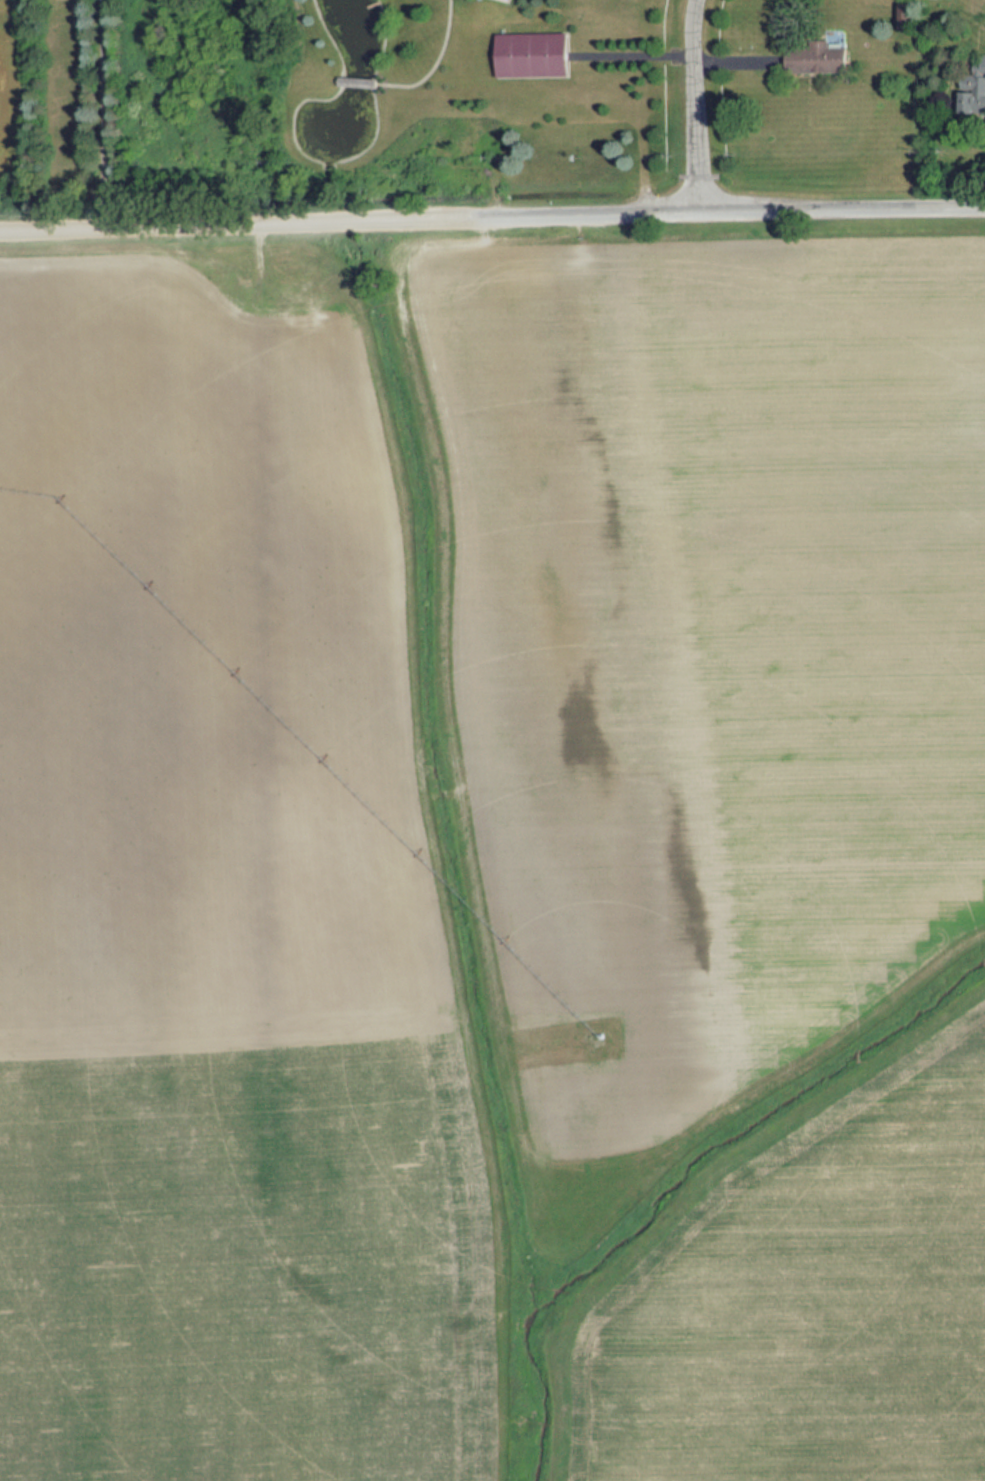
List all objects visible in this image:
building: (532, 53)
road: (631, 54)
building: (816, 58)
road: (430, 66)
road: (335, 79)
road: (354, 80)
building: (973, 90)
road: (689, 103)
road: (101, 112)
road: (726, 206)
road: (234, 221)

